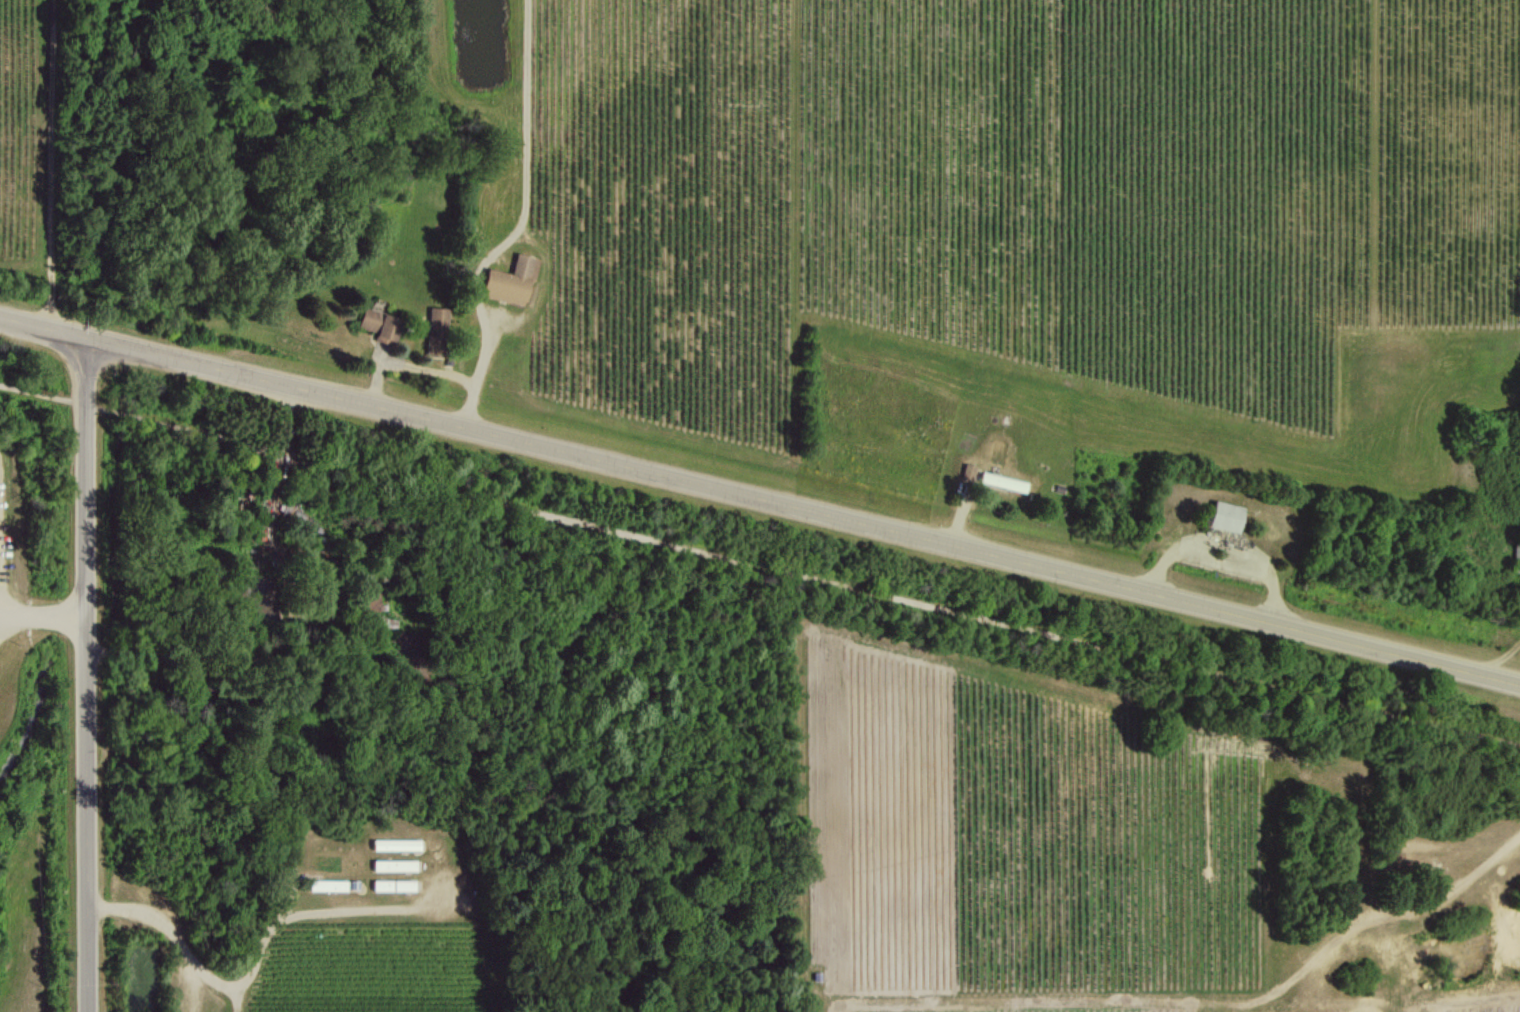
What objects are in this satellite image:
road: (55, 163)
building: (511, 280)
building: (379, 324)
building: (436, 330)
road: (279, 468)
building: (1003, 481)
road: (760, 495)
building: (1227, 515)
building: (1516, 554)
road: (759, 568)
road: (86, 673)
building: (395, 844)
building: (393, 865)
building: (327, 884)
building: (392, 885)
road: (258, 951)

